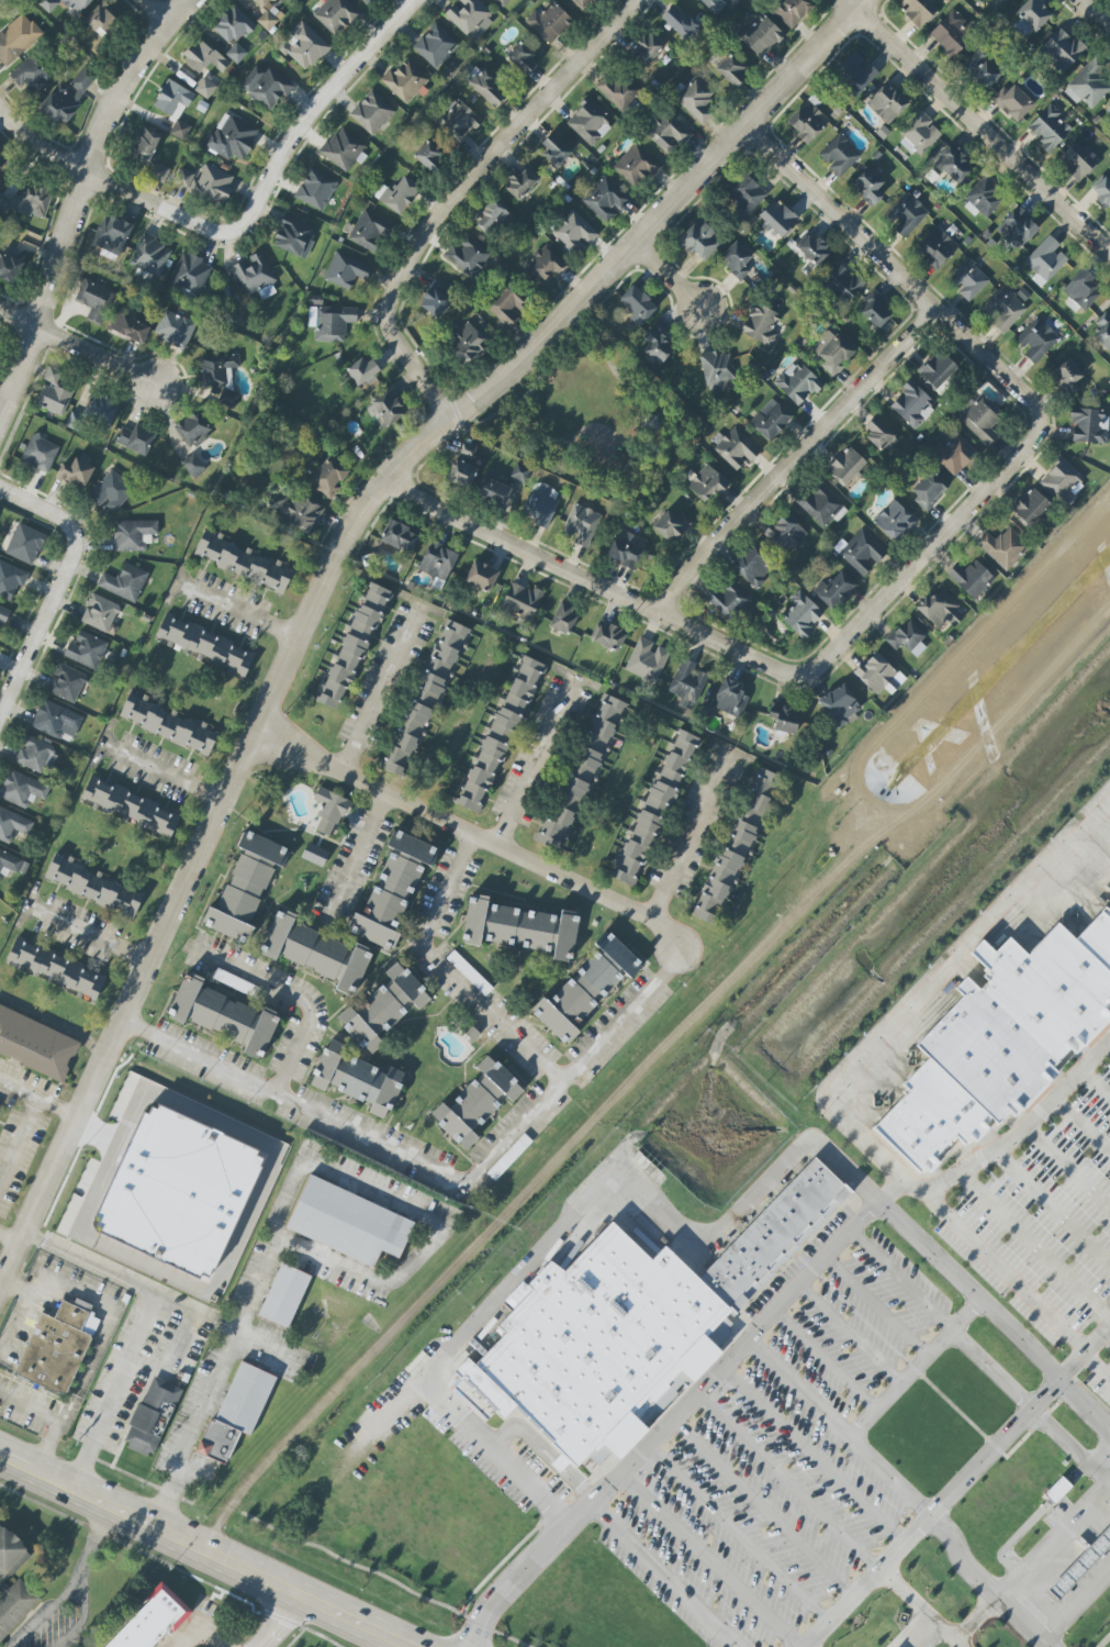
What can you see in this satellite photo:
building: (1004, 0)
building: (370, 1)
building: (502, 2)
building: (582, 2)
building: (65, 4)
building: (719, 4)
road: (166, 11)
building: (792, 11)
building: (917, 11)
road: (1094, 14)
building: (336, 15)
building: (102, 18)
building: (470, 18)
building: (1030, 18)
building: (549, 21)
building: (681, 22)
building: (232, 25)
building: (951, 34)
building: (760, 35)
building: (16, 38)
building: (304, 46)
building: (436, 47)
building: (647, 48)
building: (1062, 51)
building: (236, 53)
building: (520, 56)
building: (203, 57)
building: (731, 70)
building: (980, 70)
building: (855, 73)
building: (32, 76)
building: (405, 80)
building: (1088, 84)
building: (267, 86)
building: (486, 87)
building: (205, 88)
building: (619, 88)
building: (69, 94)
building: (173, 99)
building: (696, 99)
building: (1013, 101)
building: (887, 102)
road: (323, 105)
building: (1108, 107)
building: (371, 112)
building: (457, 121)
building: (807, 121)
building: (588, 122)
road: (977, 125)
building: (1049, 129)
building: (180, 130)
building: (668, 130)
building: (919, 135)
building: (231, 137)
building: (145, 145)
building: (344, 149)
building: (554, 149)
building: (839, 155)
building: (429, 156)
building: (2, 160)
building: (1076, 162)
building: (954, 164)
building: (636, 165)
building: (159, 173)
building: (183, 178)
building: (520, 183)
building: (212, 185)
building: (867, 186)
building: (315, 189)
road: (462, 189)
road: (114, 190)
building: (1102, 192)
building: (397, 194)
building: (744, 196)
building: (605, 199)
building: (33, 200)
road: (77, 200)
building: (3, 203)
building: (906, 214)
building: (491, 218)
building: (778, 218)
building: (1017, 229)
building: (370, 231)
building: (574, 231)
building: (112, 235)
building: (294, 236)
building: (697, 238)
building: (937, 247)
building: (810, 249)
building: (150, 255)
building: (467, 255)
building: (737, 260)
building: (1045, 260)
building: (12, 265)
building: (543, 265)
building: (346, 270)
building: (190, 275)
building: (256, 276)
road: (669, 279)
building: (969, 279)
building: (843, 282)
building: (1081, 290)
building: (436, 298)
building: (94, 299)
building: (507, 302)
building: (637, 303)
building: (1002, 309)
building: (874, 310)
road: (19, 322)
building: (330, 322)
building: (760, 323)
building: (128, 327)
building: (175, 329)
building: (1103, 330)
building: (1035, 338)
building: (466, 343)
building: (658, 345)
building: (831, 350)
road: (98, 358)
building: (363, 370)
building: (938, 370)
building: (718, 371)
building: (53, 375)
building: (221, 376)
building: (1066, 376)
building: (797, 382)
road: (629, 389)
building: (54, 399)
building: (912, 404)
building: (385, 410)
building: (94, 413)
park: (591, 418)
building: (980, 419)
building: (771, 420)
building: (1089, 425)
building: (193, 429)
building: (878, 435)
building: (135, 439)
building: (735, 447)
building: (468, 449)
building: (40, 454)
building: (954, 454)
road: (792, 457)
building: (846, 465)
building: (193, 466)
building: (520, 471)
building: (76, 472)
building: (461, 474)
building: (329, 476)
building: (1062, 480)
building: (707, 483)
building: (929, 489)
building: (111, 491)
building: (492, 491)
building: (540, 503)
building: (821, 505)
building: (1031, 507)
road: (38, 511)
building: (300, 514)
building: (894, 520)
building: (582, 524)
building: (671, 525)
building: (786, 533)
building: (134, 535)
building: (400, 537)
building: (25, 544)
building: (1002, 547)
building: (626, 548)
building: (860, 552)
building: (243, 561)
building: (437, 563)
building: (754, 565)
road: (909, 567)
road: (330, 569)
building: (481, 576)
building: (972, 578)
building: (11, 579)
building: (124, 582)
building: (836, 590)
building: (729, 600)
building: (520, 601)
road: (237, 610)
building: (939, 610)
building: (100, 613)
building: (3, 614)
building: (801, 614)
building: (564, 619)
road: (43, 630)
building: (607, 636)
building: (907, 637)
building: (204, 644)
building: (354, 647)
building: (86, 650)
building: (647, 660)
building: (441, 661)
building: (878, 675)
building: (688, 680)
building: (67, 682)
road: (384, 690)
building: (729, 698)
building: (840, 705)
building: (784, 719)
building: (56, 720)
building: (169, 724)
building: (604, 724)
building: (500, 736)
building: (405, 737)
building: (36, 754)
road: (534, 765)
road: (162, 771)
building: (22, 789)
building: (570, 799)
building: (131, 808)
building: (330, 810)
building: (654, 811)
building: (12, 825)
road: (470, 836)
road: (691, 837)
building: (413, 847)
building: (262, 849)
building: (733, 850)
building: (314, 854)
road: (356, 858)
building: (12, 864)
building: (92, 886)
building: (239, 900)
building: (386, 903)
building: (520, 928)
road: (83, 933)
building: (315, 952)
building: (55, 968)
road: (448, 973)
building: (469, 973)
building: (235, 982)
road: (932, 982)
building: (586, 988)
road: (289, 995)
building: (384, 1008)
building: (223, 1015)
road: (55, 1023)
building: (991, 1037)
road: (1109, 1042)
building: (35, 1045)
building: (357, 1079)
road: (1095, 1083)
road: (38, 1101)
building: (476, 1102)
road: (1042, 1104)
road: (1081, 1123)
road: (18, 1139)
building: (508, 1157)
road: (1066, 1162)
road: (435, 1170)
road: (295, 1179)
parking lot: (1043, 1188)
building: (179, 1191)
road: (1051, 1204)
road: (567, 1220)
building: (348, 1223)
road: (952, 1224)
building: (771, 1236)
road: (9, 1242)
road: (1036, 1244)
road: (229, 1259)
road: (898, 1277)
road: (63, 1283)
building: (284, 1297)
road: (994, 1318)
road: (141, 1327)
road: (1063, 1335)
building: (601, 1340)
building: (1109, 1343)
road: (177, 1344)
building: (58, 1346)
road: (264, 1348)
road: (1094, 1368)
road: (83, 1375)
road: (795, 1387)
parking lot: (1102, 1389)
road: (683, 1396)
building: (246, 1398)
road: (31, 1402)
road: (873, 1409)
building: (149, 1415)
building: (162, 1418)
road: (47, 1444)
parking lot: (474, 1444)
road: (1067, 1447)
road: (809, 1451)
parking lot: (789, 1467)
road: (1108, 1483)
building: (1057, 1491)
road: (938, 1501)
road: (756, 1505)
road: (91, 1542)
road: (202, 1550)
building: (1078, 1560)
gas station: (1078, 1560)
road: (1032, 1568)
road: (884, 1571)
road: (663, 1572)
building: (13, 1583)
road: (980, 1585)
road: (74, 1587)
road: (919, 1609)
road: (1076, 1609)
building: (148, 1623)
road: (281, 1623)
road: (195, 1631)
road: (908, 1631)
road: (797, 1645)

